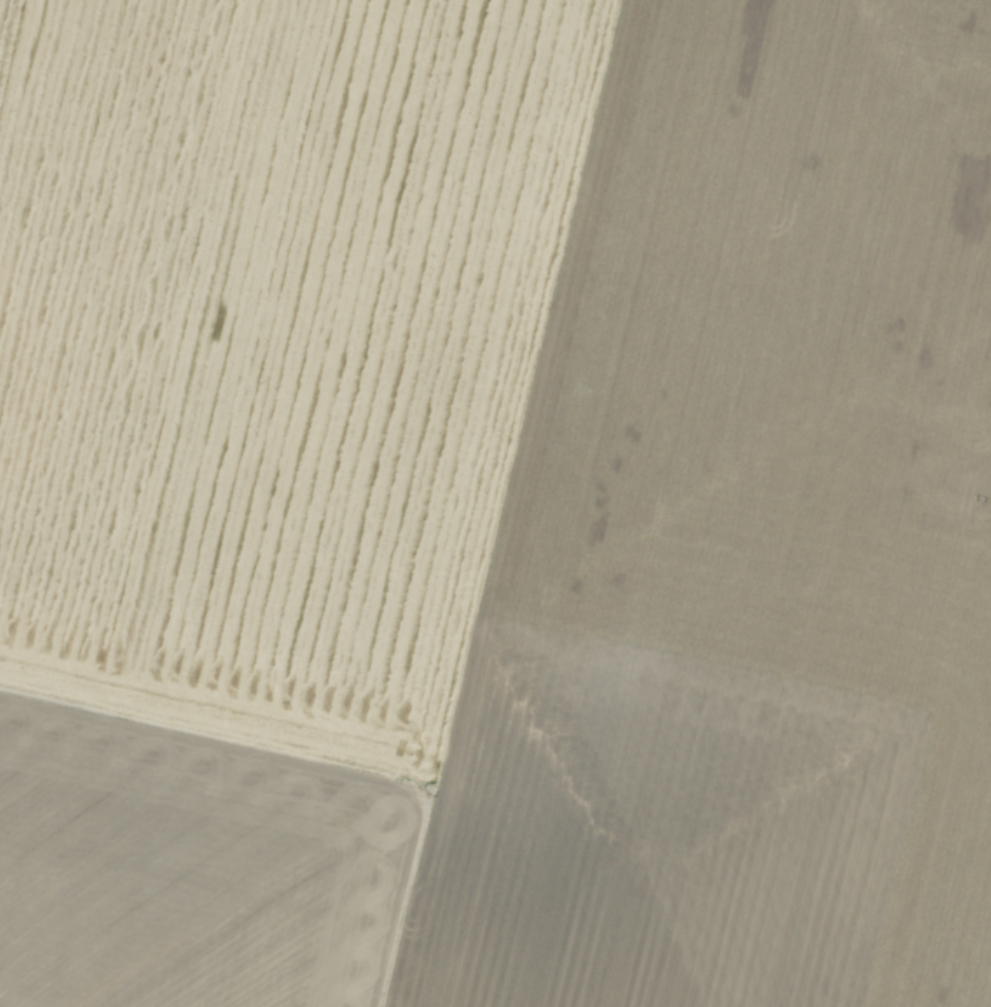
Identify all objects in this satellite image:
crop: (518, 401)
road: (320, 762)

